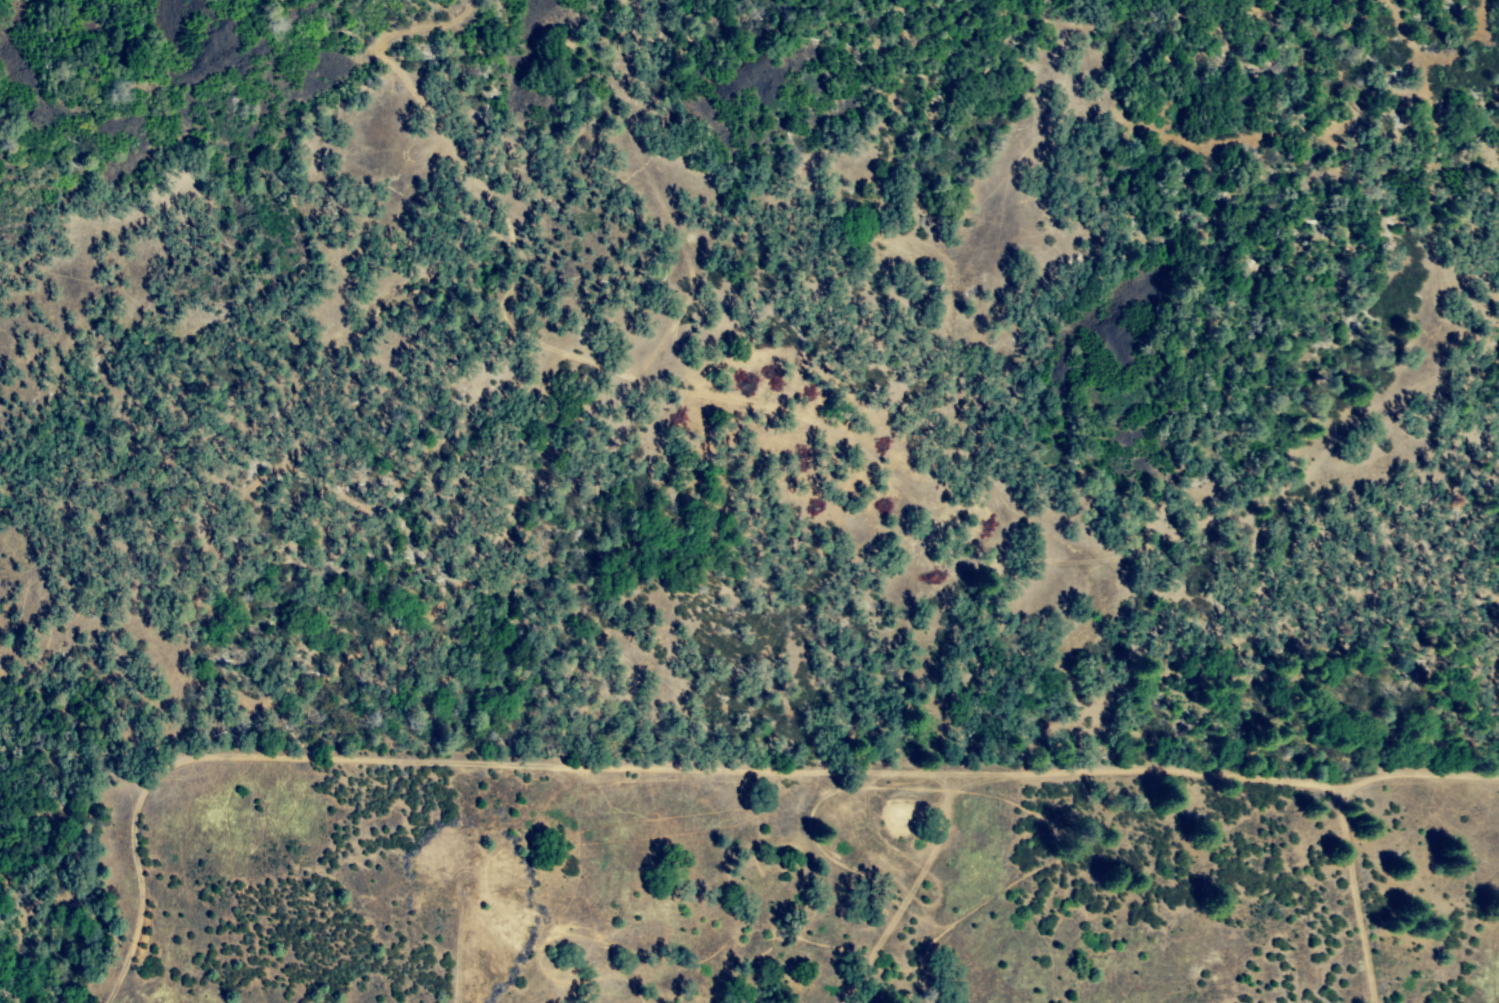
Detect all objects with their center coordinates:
road: (162, 861)

